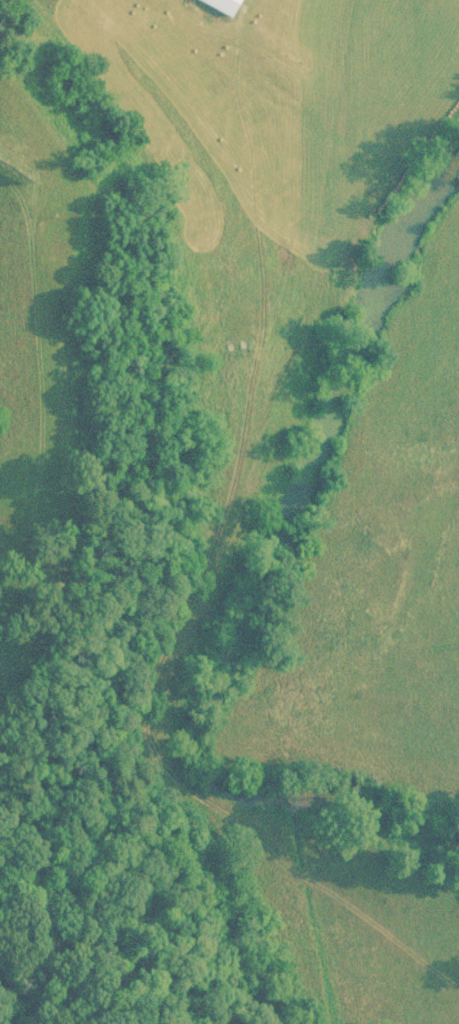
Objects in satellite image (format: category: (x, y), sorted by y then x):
building: (214, 7)

